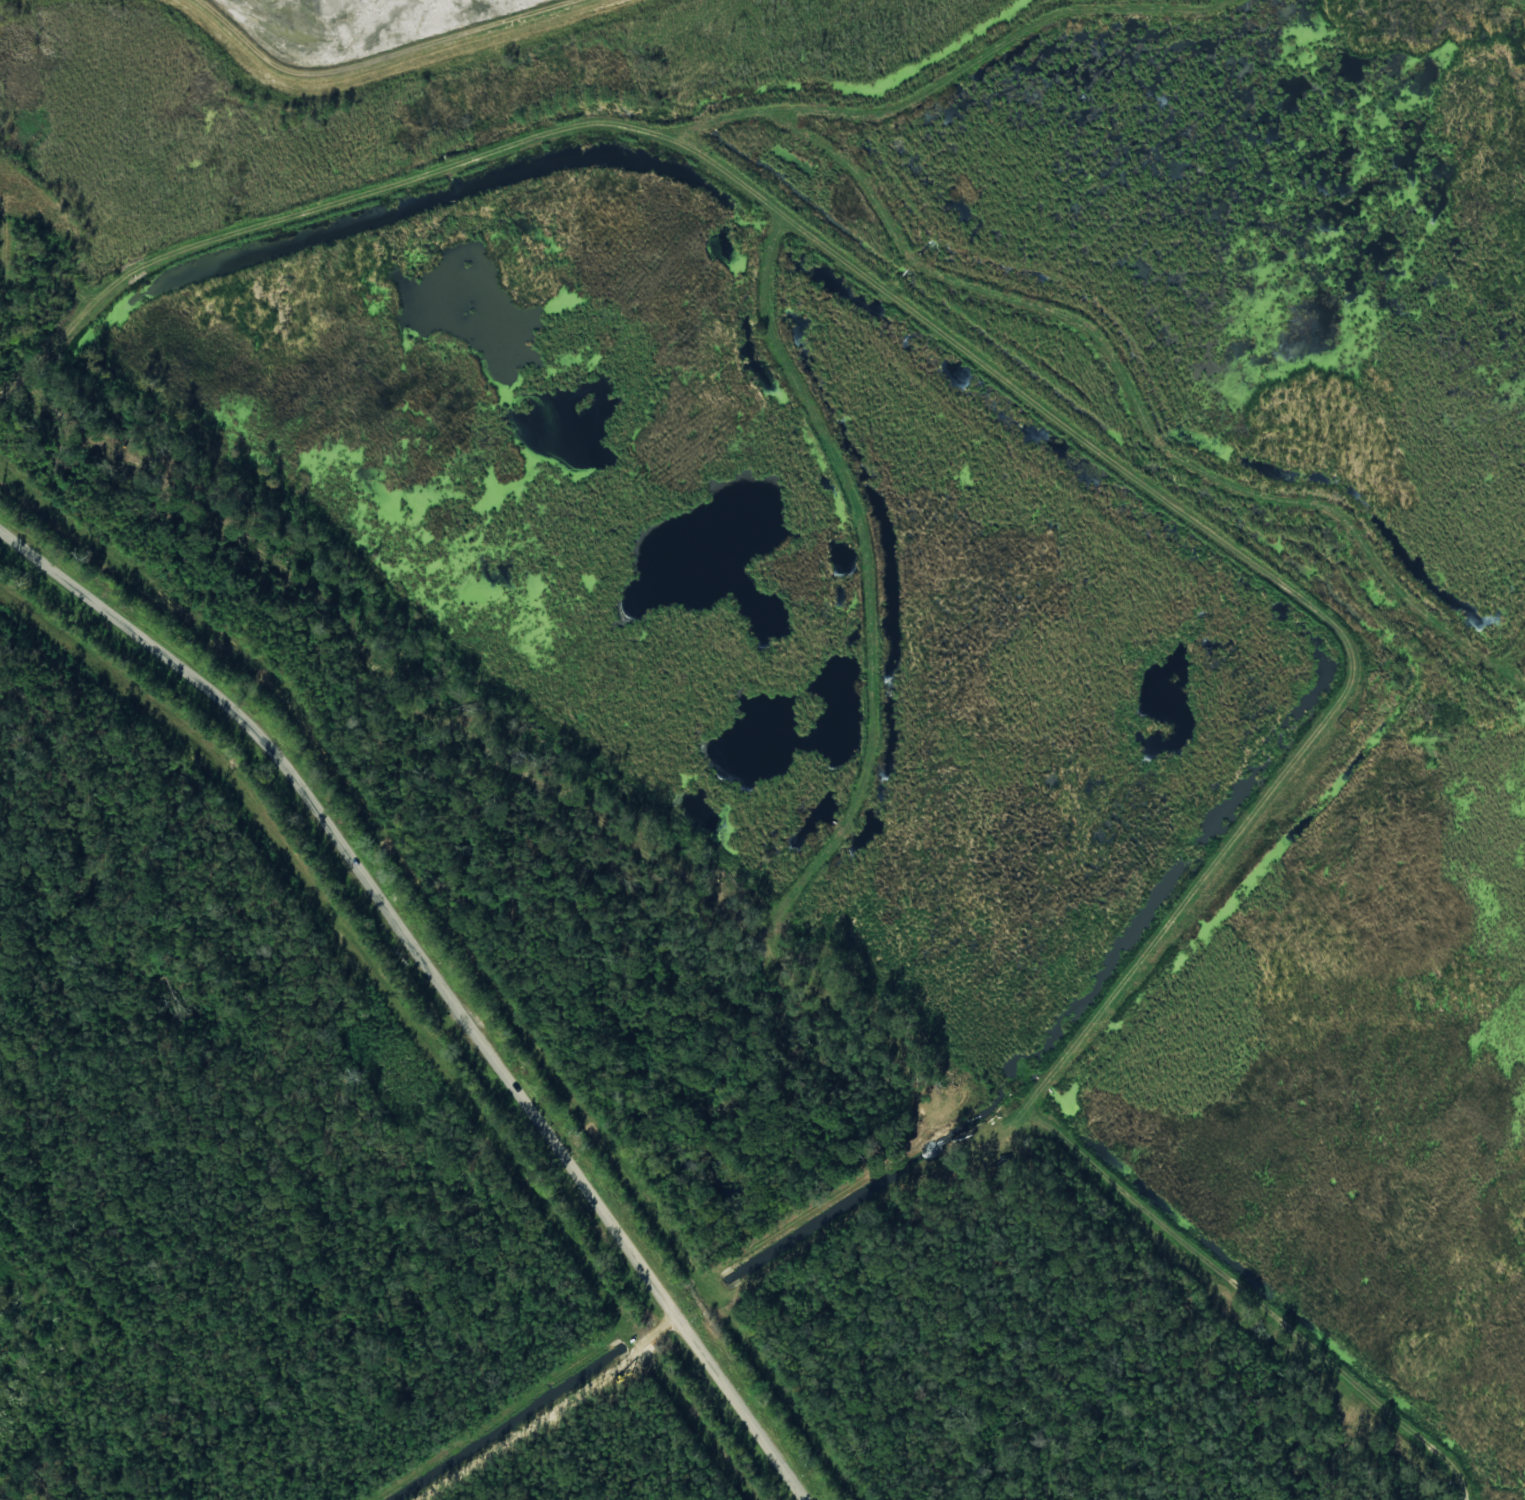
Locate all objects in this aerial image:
road: (441, 980)

